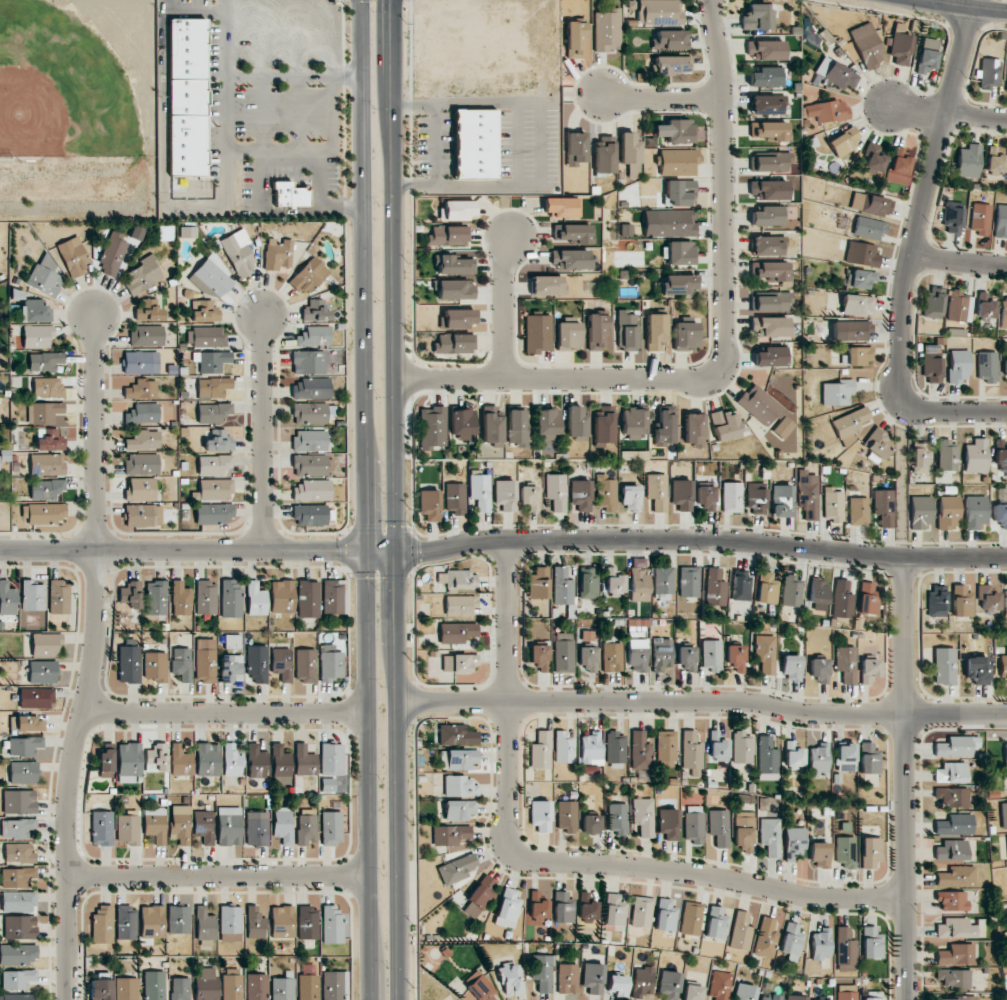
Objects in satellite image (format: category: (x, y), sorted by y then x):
traffic signals: (394, 6)
road: (959, 8)
building: (659, 12)
building: (757, 17)
building: (607, 30)
building: (670, 40)
building: (867, 45)
building: (900, 45)
building: (187, 47)
building: (764, 50)
building: (927, 55)
building: (672, 64)
building: (835, 73)
building: (989, 73)
road: (293, 76)
park: (76, 77)
building: (766, 77)
building: (187, 95)
road: (662, 97)
building: (767, 104)
building: (827, 111)
road: (946, 115)
building: (768, 130)
building: (680, 131)
building: (843, 142)
building: (475, 143)
building: (187, 145)
building: (576, 148)
building: (628, 148)
building: (604, 154)
building: (874, 157)
building: (995, 159)
building: (677, 161)
building: (769, 161)
building: (968, 161)
building: (900, 165)
road: (720, 183)
building: (769, 189)
building: (679, 192)
building: (289, 195)
building: (871, 204)
road: (194, 206)
building: (562, 207)
road: (264, 210)
building: (457, 210)
building: (767, 216)
building: (952, 218)
building: (980, 219)
building: (1001, 221)
building: (668, 223)
building: (869, 228)
building: (187, 231)
building: (164, 233)
building: (572, 233)
building: (449, 235)
building: (767, 245)
road: (911, 249)
building: (238, 253)
building: (680, 253)
building: (112, 254)
building: (278, 254)
building: (861, 254)
building: (72, 256)
building: (570, 259)
road: (958, 261)
building: (455, 265)
building: (771, 270)
building: (142, 275)
building: (308, 275)
building: (45, 276)
building: (862, 278)
building: (211, 279)
building: (678, 284)
building: (547, 285)
building: (455, 289)
building: (770, 301)
building: (933, 302)
building: (857, 304)
building: (985, 305)
building: (959, 306)
building: (147, 310)
building: (35, 311)
building: (315, 311)
road: (506, 311)
building: (1003, 311)
building: (205, 312)
building: (458, 318)
building: (627, 330)
building: (850, 330)
building: (596, 331)
building: (656, 332)
building: (538, 333)
building: (146, 335)
building: (568, 335)
building: (37, 336)
building: (313, 336)
building: (685, 336)
building: (205, 337)
building: (455, 343)
building: (859, 355)
building: (770, 356)
building: (44, 361)
building: (211, 361)
building: (141, 362)
building: (307, 362)
building: (932, 364)
building: (959, 366)
building: (986, 366)
building: (1005, 367)
road: (558, 379)
building: (47, 387)
building: (213, 387)
building: (310, 388)
building: (141, 389)
building: (837, 392)
building: (759, 405)
building: (44, 412)
building: (213, 412)
building: (143, 413)
building: (310, 413)
building: (461, 422)
building: (576, 422)
building: (633, 422)
building: (849, 422)
building: (547, 423)
building: (491, 424)
building: (603, 424)
building: (725, 425)
building: (432, 427)
building: (517, 427)
building: (665, 427)
building: (783, 427)
building: (694, 429)
road: (264, 433)
building: (51, 440)
building: (143, 440)
building: (309, 440)
building: (219, 441)
building: (876, 443)
building: (1000, 453)
building: (947, 455)
building: (976, 456)
building: (921, 458)
building: (46, 464)
building: (141, 464)
building: (214, 464)
building: (310, 465)
building: (46, 489)
building: (140, 489)
building: (215, 489)
building: (310, 490)
building: (480, 491)
building: (556, 492)
building: (657, 492)
building: (606, 493)
building: (808, 494)
building: (505, 495)
building: (581, 495)
building: (682, 495)
building: (706, 497)
building: (732, 497)
building: (455, 498)
building: (529, 498)
building: (631, 498)
building: (756, 498)
road: (364, 499)
road: (396, 500)
building: (782, 501)
building: (833, 504)
building: (429, 505)
building: (883, 507)
building: (858, 511)
building: (920, 512)
building: (975, 512)
building: (44, 513)
building: (213, 513)
building: (948, 513)
building: (309, 514)
building: (143, 515)
building: (1000, 515)
road: (702, 539)
road: (381, 550)
road: (182, 551)
building: (458, 579)
building: (688, 581)
building: (539, 582)
building: (614, 582)
building: (587, 583)
building: (663, 583)
building: (741, 585)
building: (562, 586)
building: (715, 588)
building: (766, 588)
building: (792, 591)
building: (817, 591)
building: (131, 594)
building: (32, 595)
building: (282, 596)
building: (334, 596)
building: (59, 597)
building: (206, 597)
building: (988, 597)
building: (156, 598)
building: (181, 598)
building: (867, 598)
building: (7, 599)
building: (230, 599)
building: (256, 599)
building: (307, 599)
building: (841, 599)
building: (936, 601)
building: (961, 601)
building: (1005, 604)
building: (461, 605)
building: (456, 632)
building: (588, 637)
building: (232, 641)
building: (45, 644)
building: (564, 653)
building: (662, 653)
building: (765, 653)
building: (637, 655)
building: (712, 655)
building: (539, 657)
building: (612, 657)
building: (686, 658)
building: (735, 658)
building: (587, 659)
road: (93, 660)
building: (205, 661)
building: (181, 663)
building: (281, 663)
building: (330, 663)
building: (458, 663)
building: (128, 664)
building: (257, 664)
building: (846, 664)
building: (1003, 665)
building: (155, 666)
building: (305, 666)
building: (944, 666)
building: (231, 668)
building: (791, 668)
building: (819, 669)
building: (977, 669)
building: (868, 670)
building: (42, 672)
building: (36, 698)
road: (703, 702)
road: (226, 711)
building: (25, 723)
building: (457, 735)
building: (24, 746)
building: (718, 746)
building: (956, 746)
building: (564, 747)
building: (590, 747)
building: (741, 748)
building: (666, 749)
building: (616, 750)
building: (541, 751)
building: (640, 751)
building: (1005, 752)
building: (691, 753)
building: (793, 756)
building: (156, 758)
building: (845, 758)
building: (868, 758)
building: (207, 759)
building: (331, 759)
building: (459, 759)
building: (767, 759)
building: (818, 759)
building: (180, 761)
building: (231, 761)
building: (304, 761)
building: (105, 762)
building: (256, 762)
building: (128, 763)
building: (280, 765)
building: (23, 772)
building: (950, 773)
road: (906, 778)
building: (327, 783)
building: (460, 786)
building: (952, 797)
building: (19, 801)
building: (459, 809)
building: (540, 815)
building: (1004, 815)
building: (567, 816)
building: (643, 816)
building: (617, 818)
building: (669, 823)
building: (155, 824)
building: (181, 824)
building: (591, 824)
building: (694, 824)
building: (954, 825)
building: (203, 826)
building: (229, 826)
building: (306, 826)
building: (282, 827)
building: (719, 827)
building: (17, 828)
building: (101, 828)
building: (128, 828)
building: (256, 828)
building: (331, 828)
building: (744, 831)
building: (450, 834)
building: (770, 836)
building: (1006, 837)
building: (794, 844)
building: (951, 850)
building: (845, 851)
building: (19, 853)
building: (870, 853)
building: (819, 855)
road: (555, 862)
building: (457, 869)
building: (17, 876)
building: (956, 876)
road: (218, 877)
building: (480, 896)
building: (952, 900)
building: (18, 901)
building: (538, 905)
building: (588, 906)
building: (508, 907)
building: (563, 907)
building: (614, 910)
building: (641, 911)
building: (665, 915)
building: (691, 918)
building: (178, 919)
building: (151, 922)
building: (281, 922)
building: (126, 923)
building: (230, 923)
building: (254, 923)
building: (307, 923)
building: (716, 923)
building: (102, 924)
building: (204, 924)
building: (332, 925)
building: (20, 927)
building: (955, 928)
building: (741, 931)
building: (765, 938)
building: (791, 941)
building: (871, 943)
building: (821, 944)
building: (845, 950)
building: (18, 954)
building: (956, 954)
building: (542, 972)
building: (18, 978)
building: (567, 978)
building: (592, 978)
building: (954, 978)
building: (510, 979)
building: (642, 981)
building: (206, 983)
building: (232, 984)
building: (669, 984)
building: (154, 985)
building: (334, 985)
building: (617, 985)
building: (720, 985)
building: (256, 986)
building: (308, 987)
building: (126, 988)
building: (180, 988)
building: (100, 989)
building: (282, 989)
building: (480, 990)
building: (692, 992)
building: (744, 992)
building: (847, 992)
building: (872, 995)
building: (18, 997)
building: (768, 997)
building: (795, 997)
building: (956, 998)
building: (822, 999)

